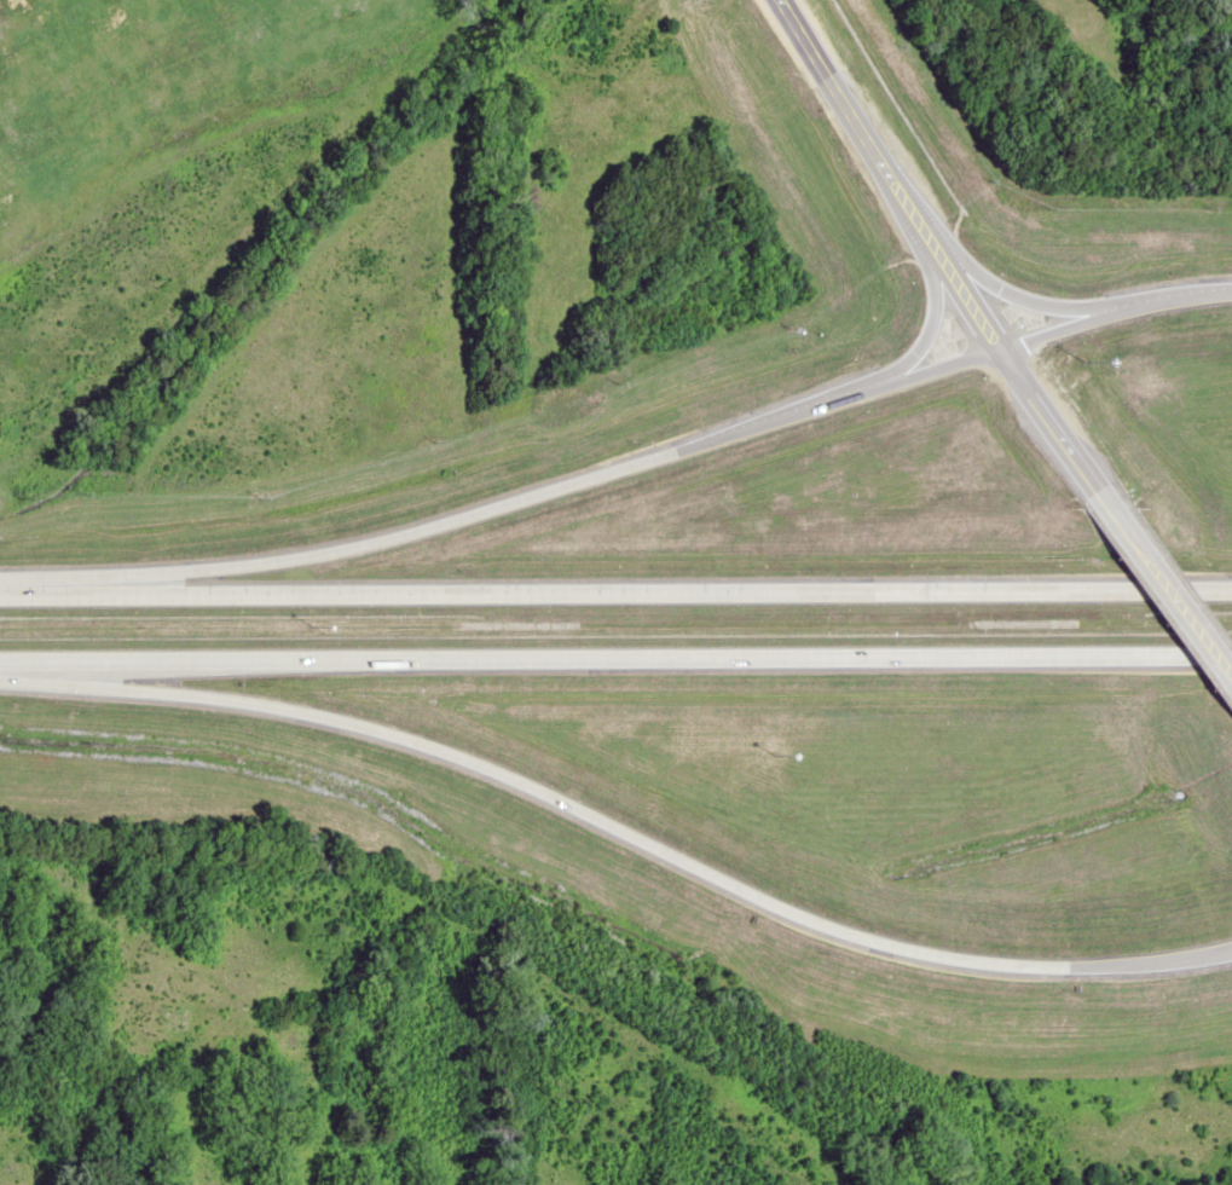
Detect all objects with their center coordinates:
road: (941, 252)
road: (1025, 294)
road: (929, 319)
road: (620, 464)
road: (615, 589)
road: (1166, 596)
road: (615, 661)
road: (615, 833)

